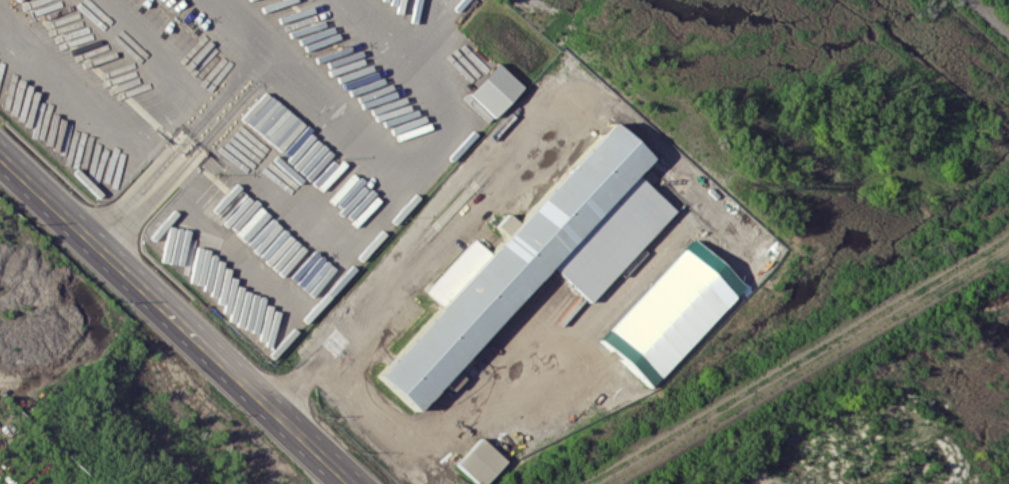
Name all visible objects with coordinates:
landfill: (1001, 7)
road: (238, 33)
road: (257, 72)
building: (474, 105)
building: (262, 115)
road: (135, 205)
road: (427, 252)
building: (534, 257)
building: (671, 312)
road: (176, 319)
building: (451, 379)
building: (479, 461)

